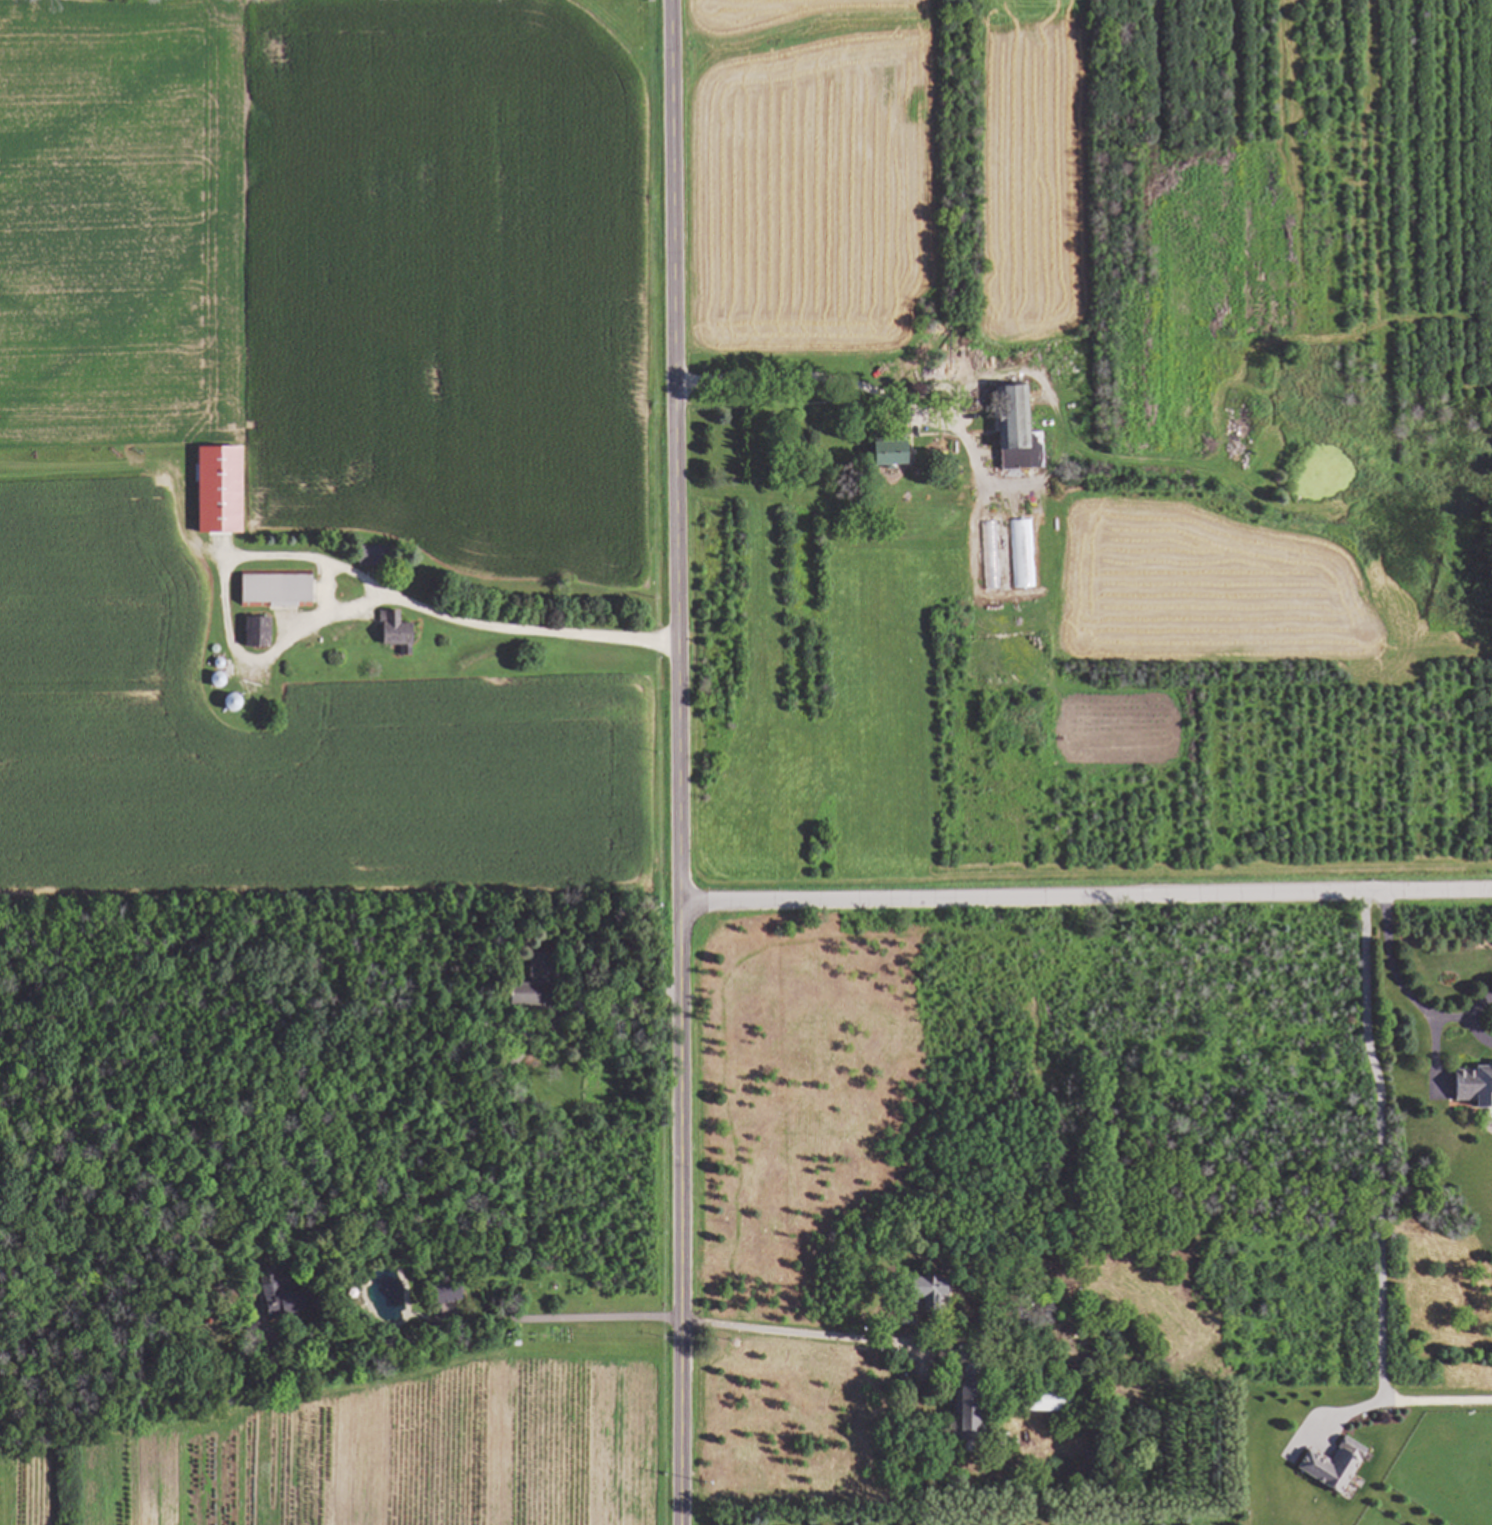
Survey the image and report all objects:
road: (864, 389)
building: (1020, 432)
building: (894, 454)
building: (1021, 556)
building: (989, 557)
building: (372, 558)
building: (278, 592)
road: (325, 619)
building: (396, 632)
building: (259, 634)
road: (686, 762)
road: (1086, 902)
road: (1395, 978)
building: (538, 982)
road: (610, 991)
road: (1474, 1006)
road: (1475, 1033)
building: (1474, 1084)
road: (1380, 1201)
building: (925, 1292)
building: (448, 1294)
building: (285, 1300)
road: (466, 1322)
road: (793, 1328)
road: (1435, 1397)
building: (1038, 1401)
building: (964, 1410)

